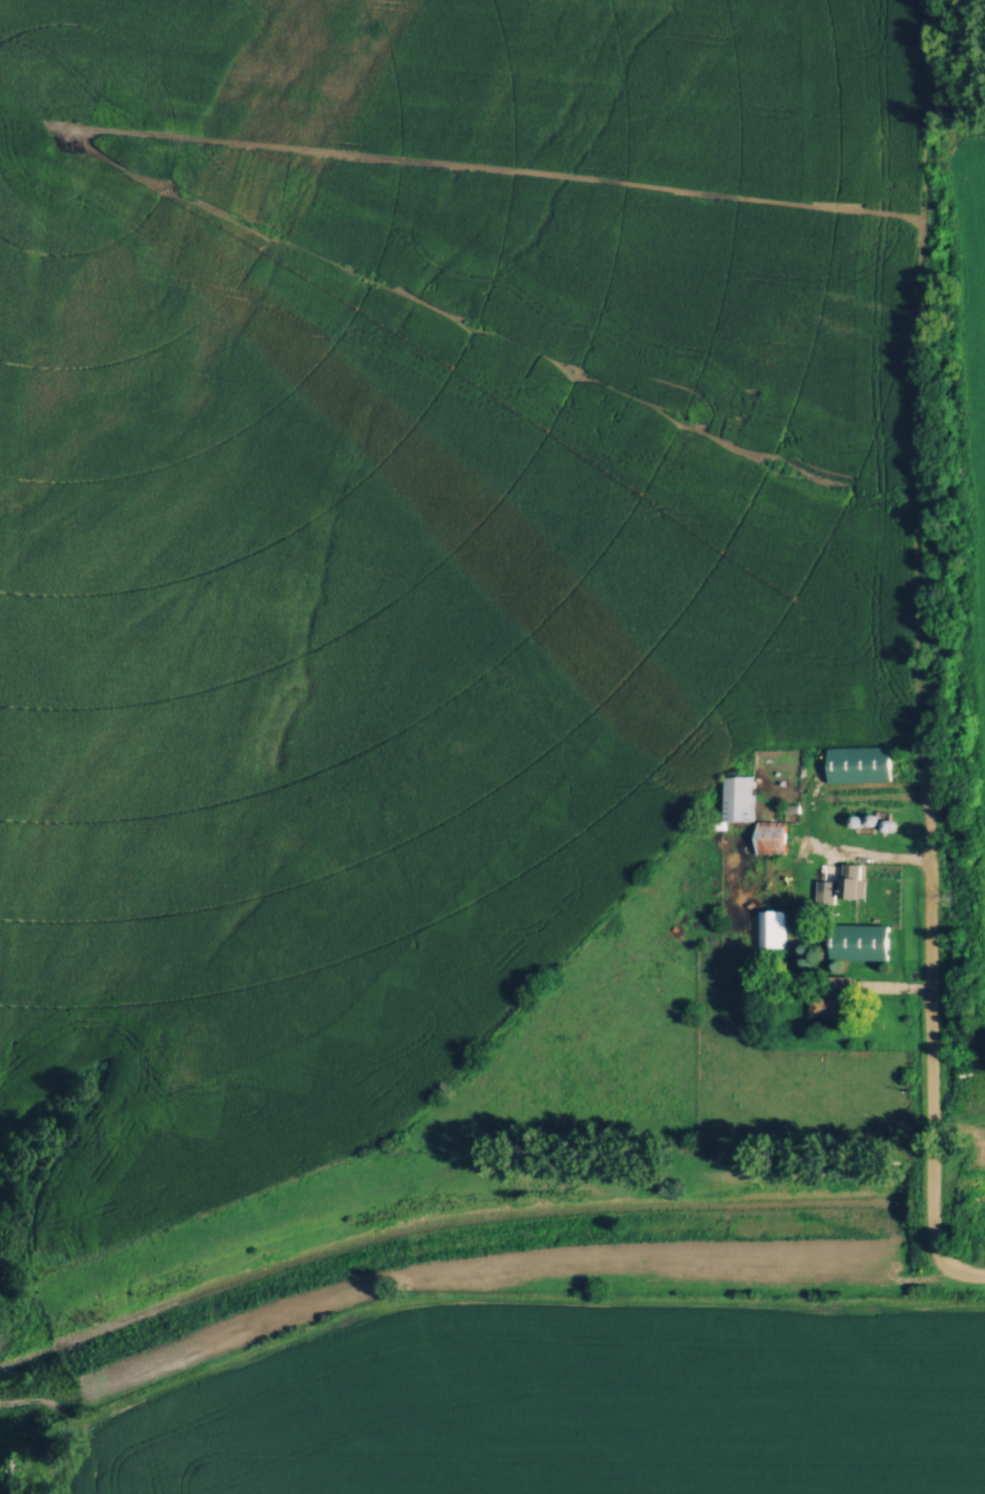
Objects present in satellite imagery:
building: (739, 795)
building: (771, 833)
building: (850, 884)
building: (769, 925)
building: (831, 995)
road: (929, 1024)

